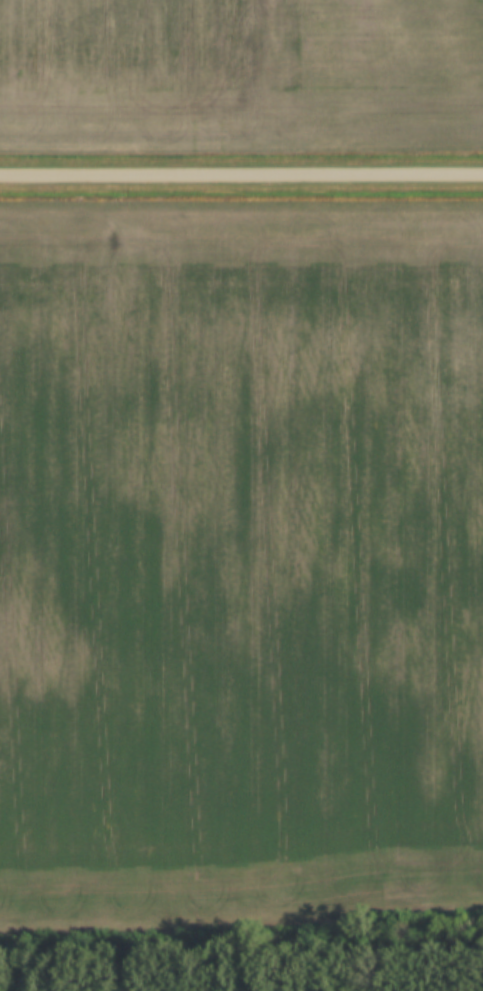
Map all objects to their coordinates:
road: (241, 177)

